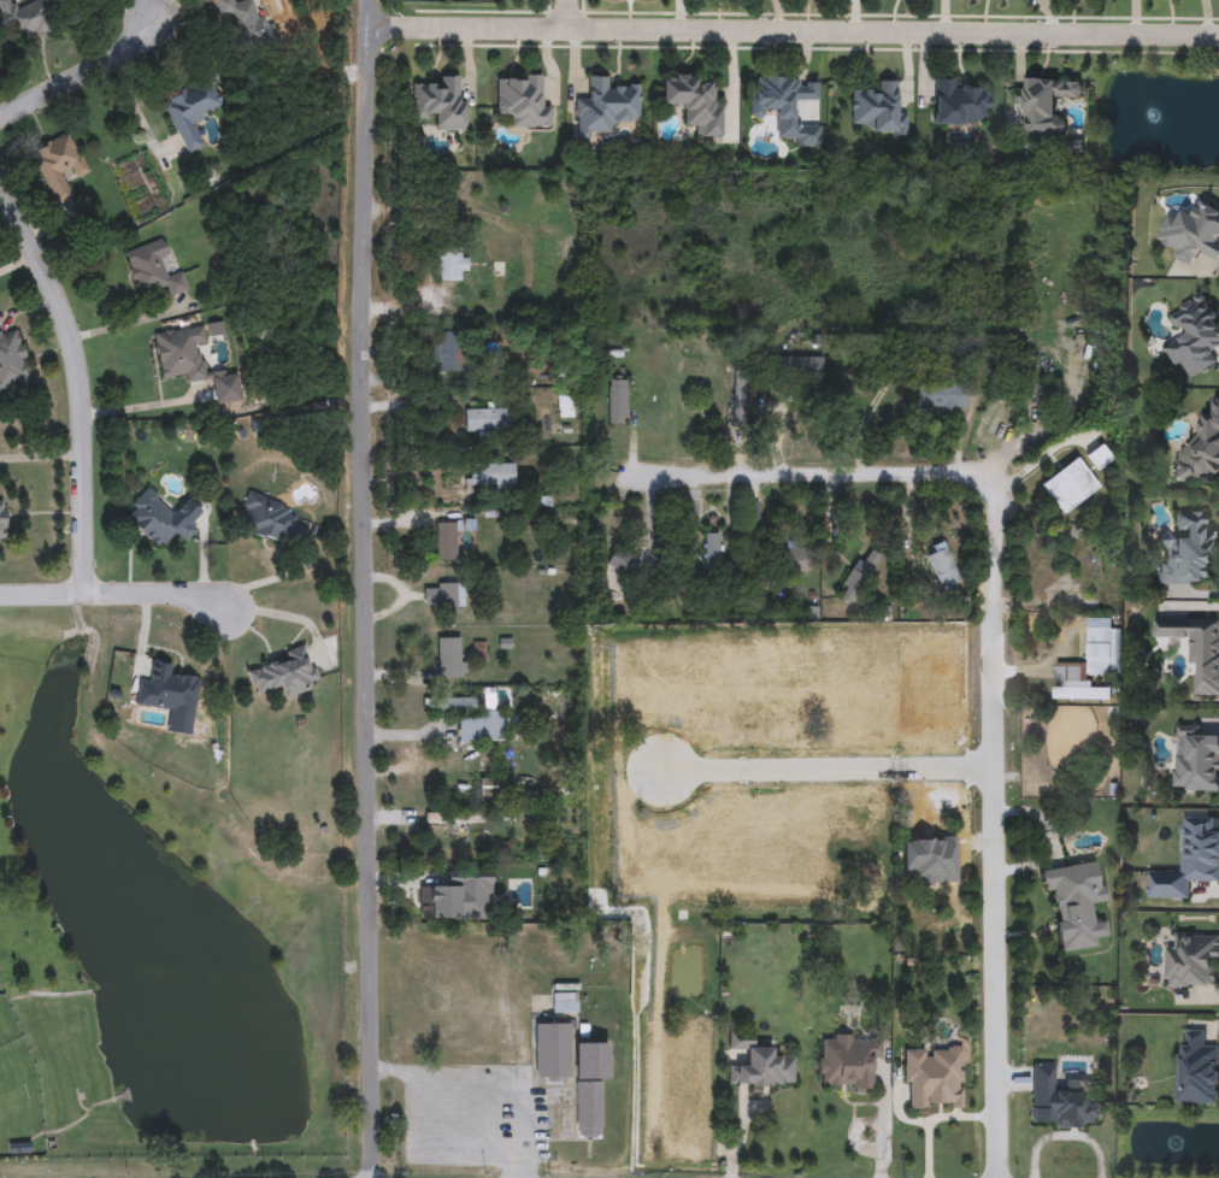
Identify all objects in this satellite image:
road: (155, 12)
road: (571, 14)
road: (1202, 17)
building: (23, 20)
road: (794, 31)
road: (78, 73)
building: (523, 101)
building: (694, 102)
building: (442, 104)
building: (959, 105)
building: (784, 106)
building: (606, 107)
building: (1042, 108)
building: (878, 110)
building: (190, 112)
building: (59, 166)
building: (1191, 232)
building: (449, 265)
building: (153, 270)
building: (1195, 336)
building: (182, 354)
building: (447, 355)
building: (12, 361)
building: (795, 367)
road: (77, 378)
building: (942, 396)
building: (738, 400)
building: (617, 401)
building: (565, 407)
road: (139, 408)
building: (487, 420)
building: (1200, 448)
building: (1096, 453)
road: (805, 473)
building: (493, 476)
building: (694, 507)
building: (157, 519)
building: (270, 520)
building: (2, 522)
building: (448, 541)
building: (1185, 552)
building: (712, 554)
building: (791, 560)
building: (943, 569)
building: (860, 577)
road: (364, 589)
road: (117, 591)
building: (441, 597)
building: (917, 637)
building: (803, 647)
building: (1195, 647)
building: (449, 658)
building: (1090, 665)
building: (284, 675)
building: (861, 687)
building: (165, 688)
building: (722, 689)
building: (788, 691)
building: (930, 693)
building: (469, 718)
building: (1195, 760)
road: (813, 768)
building: (489, 788)
building: (454, 818)
road: (1000, 827)
building: (703, 831)
building: (862, 832)
building: (636, 837)
building: (790, 849)
building: (931, 860)
building: (1189, 860)
building: (464, 897)
building: (1074, 903)
building: (920, 940)
building: (1191, 961)
building: (565, 1002)
building: (553, 1053)
building: (847, 1062)
building: (758, 1064)
building: (1197, 1070)
building: (934, 1078)
road: (457, 1085)
building: (589, 1088)
road: (884, 1124)

